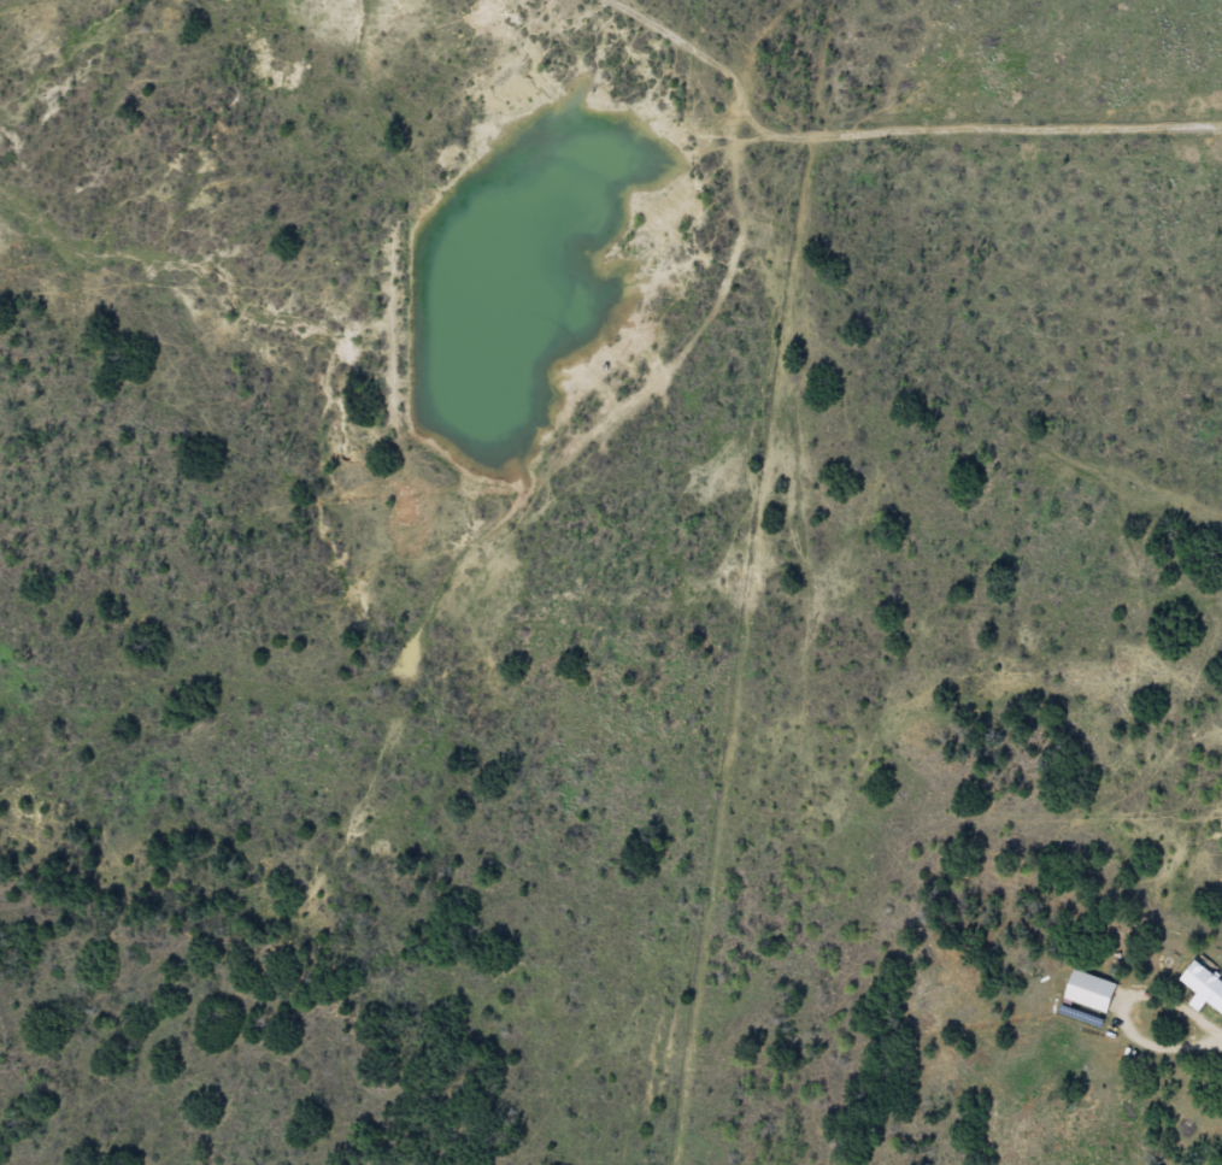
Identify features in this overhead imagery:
building: (1203, 984)
building: (1089, 992)

